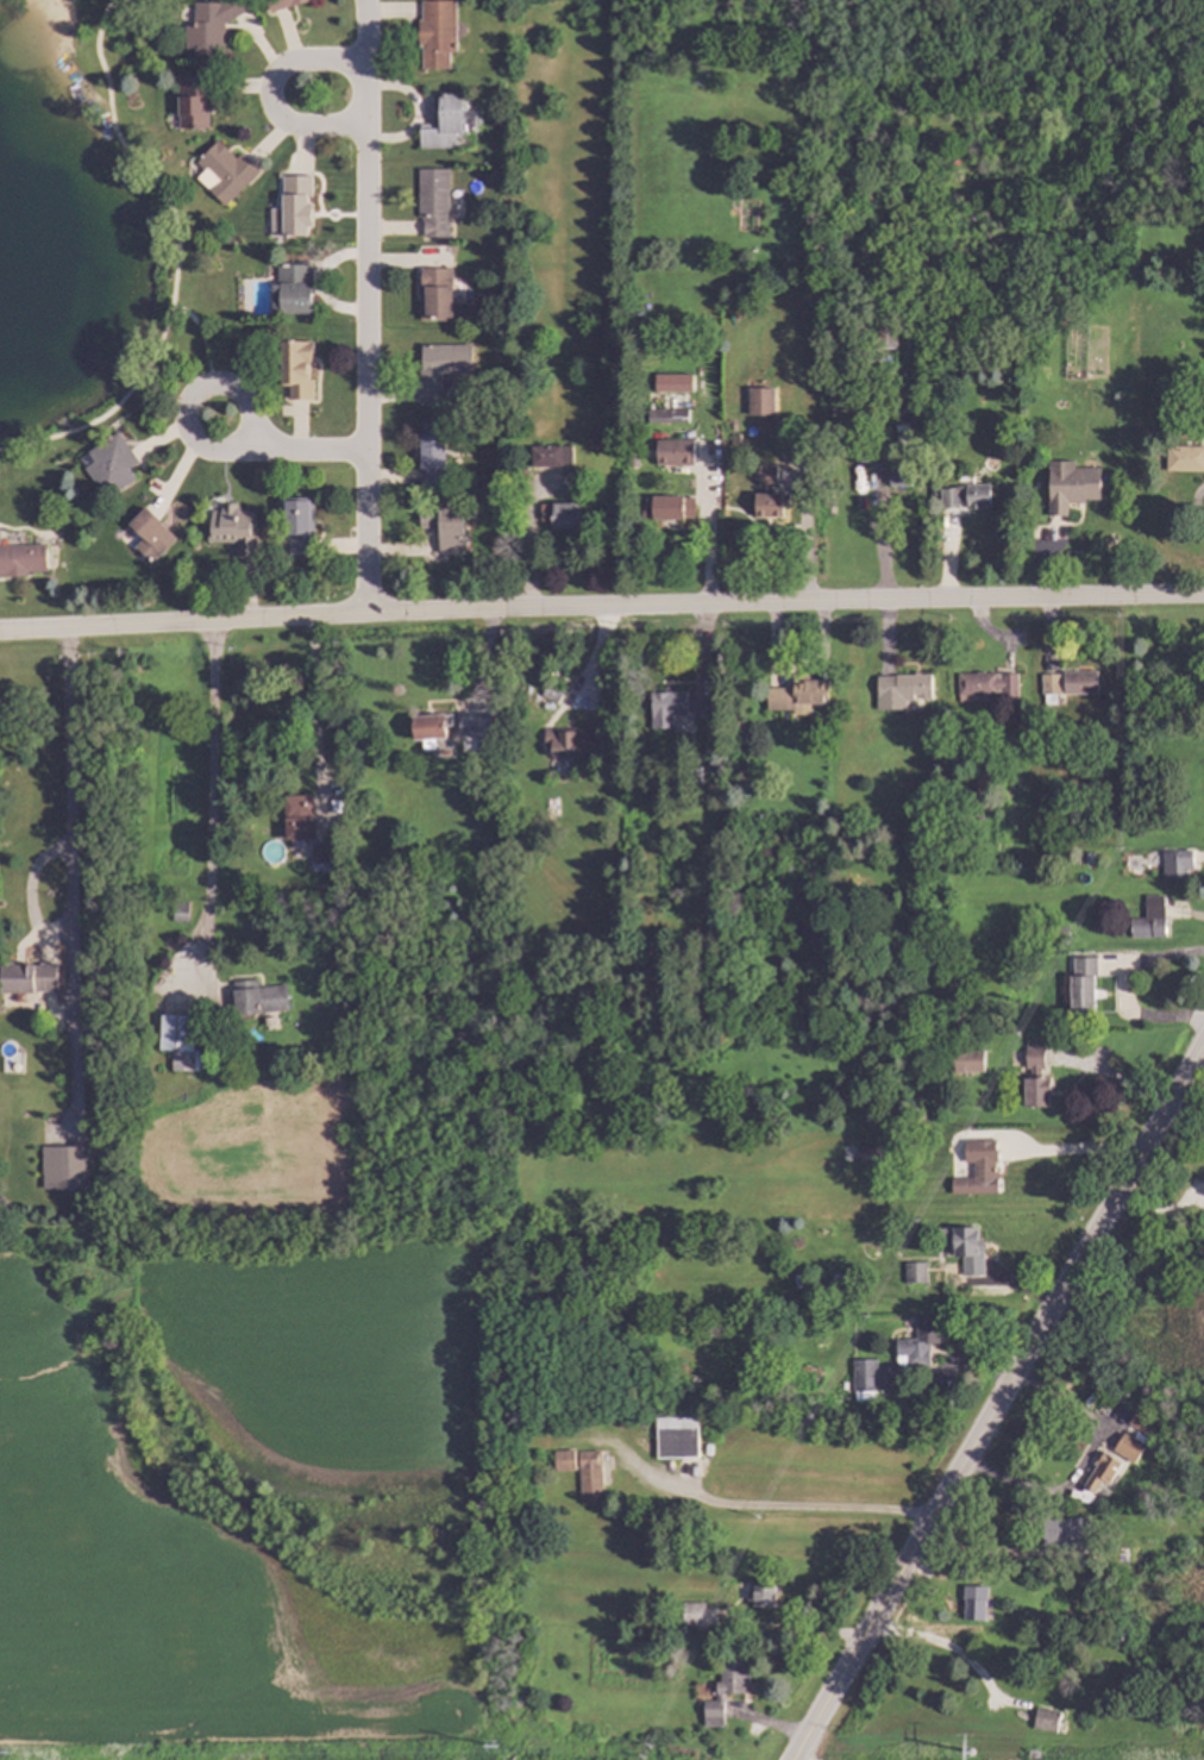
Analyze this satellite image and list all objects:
building: (283, 4)
building: (208, 26)
building: (435, 33)
road: (269, 93)
building: (190, 101)
building: (445, 121)
building: (432, 203)
road: (174, 259)
building: (291, 289)
building: (439, 296)
building: (915, 301)
road: (365, 307)
building: (889, 334)
road: (200, 339)
building: (439, 368)
building: (294, 370)
road: (200, 390)
building: (852, 399)
building: (757, 401)
building: (670, 415)
building: (948, 421)
building: (738, 439)
building: (876, 443)
building: (678, 451)
road: (303, 452)
building: (431, 453)
building: (554, 456)
building: (1186, 457)
building: (876, 461)
building: (107, 465)
building: (903, 476)
building: (1073, 484)
building: (772, 494)
building: (968, 496)
building: (673, 507)
building: (646, 508)
building: (564, 515)
building: (296, 526)
building: (230, 527)
building: (443, 527)
building: (149, 534)
building: (23, 559)
road: (857, 602)
road: (255, 620)
building: (1071, 684)
building: (989, 685)
building: (910, 688)
building: (554, 691)
building: (799, 691)
road: (314, 695)
building: (1152, 706)
building: (678, 707)
building: (958, 725)
building: (483, 726)
building: (429, 728)
building: (575, 741)
building: (719, 762)
building: (1095, 769)
road: (208, 771)
building: (698, 776)
road: (67, 781)
building: (984, 782)
building: (1096, 782)
building: (717, 787)
building: (977, 801)
building: (297, 818)
building: (840, 832)
building: (980, 832)
building: (1120, 852)
building: (319, 857)
building: (1180, 863)
building: (1153, 917)
building: (1064, 933)
building: (928, 971)
building: (27, 977)
building: (1085, 983)
building: (1064, 989)
road: (1124, 991)
building: (257, 998)
building: (178, 1041)
building: (971, 1059)
building: (1039, 1077)
road: (1110, 1079)
building: (750, 1097)
building: (730, 1098)
building: (761, 1098)
building: (874, 1147)
road: (1074, 1150)
building: (62, 1167)
building: (982, 1172)
road: (1156, 1215)
building: (965, 1239)
building: (918, 1271)
building: (840, 1278)
road: (1055, 1301)
building: (926, 1340)
crop: (331, 1365)
building: (866, 1378)
building: (1156, 1413)
building: (1145, 1424)
building: (679, 1439)
building: (1180, 1440)
building: (1131, 1447)
building: (1203, 1457)
building: (567, 1459)
road: (1080, 1465)
building: (1103, 1473)
building: (594, 1477)
road: (816, 1507)
building: (1070, 1533)
building: (1125, 1552)
road: (980, 1555)
crop: (174, 1592)
building: (765, 1593)
building: (977, 1603)
building: (697, 1612)
building: (1030, 1614)
road: (798, 1631)
road: (945, 1646)
road: (849, 1661)
building: (1051, 1661)
building: (730, 1687)
building: (1049, 1720)
power tower: (526, 1743)
power tower: (954, 1748)
building: (1036, 1753)

